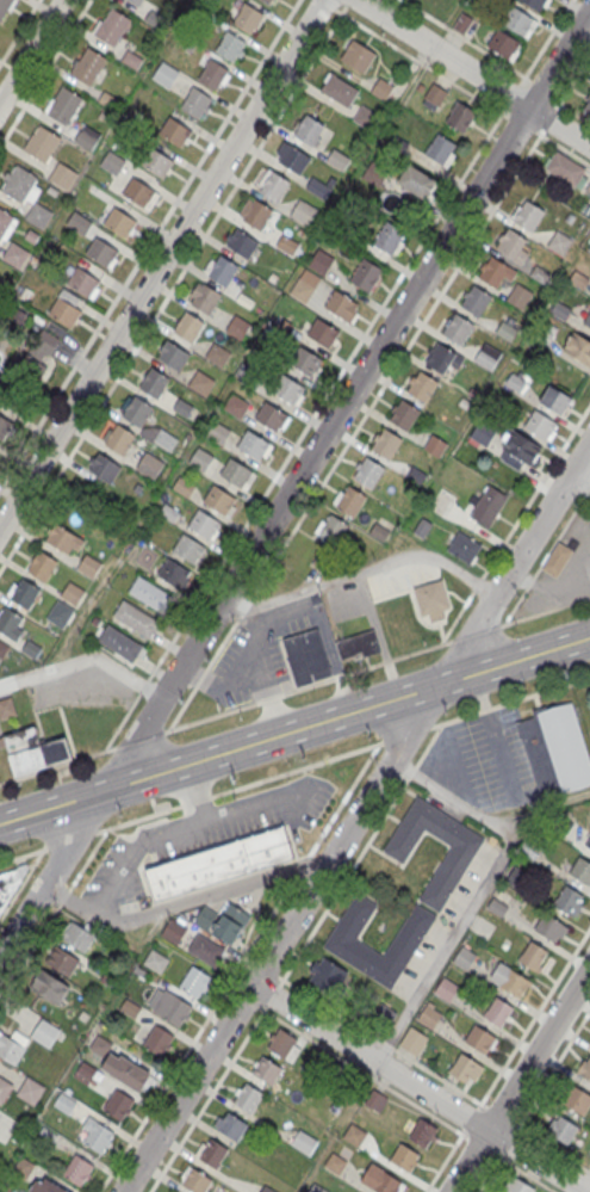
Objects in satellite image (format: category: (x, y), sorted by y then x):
building: (268, 1)
building: (135, 2)
road: (347, 2)
road: (327, 4)
building: (535, 4)
building: (5, 8)
building: (249, 20)
building: (518, 21)
building: (466, 24)
building: (113, 29)
road: (18, 30)
road: (466, 39)
road: (545, 42)
building: (502, 44)
building: (230, 49)
road: (31, 50)
building: (358, 55)
road: (420, 62)
building: (88, 68)
road: (44, 72)
road: (473, 74)
building: (164, 75)
building: (213, 76)
road: (571, 80)
building: (339, 89)
road: (540, 89)
building: (381, 91)
road: (511, 95)
building: (436, 98)
building: (197, 104)
building: (63, 107)
road: (570, 109)
building: (588, 110)
building: (460, 116)
building: (365, 119)
road: (547, 119)
road: (520, 124)
building: (309, 130)
building: (175, 134)
building: (86, 138)
building: (43, 144)
road: (561, 147)
building: (441, 149)
building: (293, 161)
building: (112, 163)
building: (157, 165)
building: (565, 169)
building: (374, 175)
building: (62, 178)
building: (272, 184)
building: (20, 185)
building: (420, 186)
building: (317, 187)
building: (588, 189)
building: (138, 194)
building: (584, 208)
building: (255, 212)
building: (303, 214)
building: (528, 215)
building: (38, 217)
building: (5, 223)
building: (79, 223)
building: (120, 224)
building: (342, 229)
building: (389, 239)
building: (559, 242)
road: (149, 243)
building: (287, 245)
building: (513, 245)
building: (242, 246)
building: (589, 248)
building: (589, 252)
building: (103, 254)
building: (15, 257)
road: (161, 263)
building: (319, 264)
building: (495, 271)
building: (223, 273)
building: (539, 274)
building: (366, 276)
building: (578, 278)
building: (82, 284)
road: (173, 286)
building: (302, 291)
building: (518, 297)
building: (474, 298)
building: (206, 301)
building: (341, 307)
building: (559, 309)
building: (63, 314)
building: (588, 320)
building: (237, 327)
building: (188, 328)
building: (458, 328)
building: (505, 331)
building: (323, 335)
building: (579, 347)
building: (218, 356)
building: (487, 356)
building: (173, 357)
building: (442, 358)
building: (304, 363)
road: (396, 364)
building: (31, 370)
building: (251, 378)
building: (201, 384)
building: (154, 385)
building: (421, 385)
building: (288, 391)
road: (325, 391)
building: (473, 391)
building: (555, 400)
building: (464, 403)
building: (236, 407)
building: (138, 413)
building: (404, 415)
building: (272, 419)
building: (536, 421)
building: (4, 428)
building: (483, 431)
building: (217, 434)
building: (119, 441)
building: (385, 443)
building: (520, 444)
building: (435, 445)
building: (253, 446)
building: (201, 461)
building: (149, 468)
building: (104, 470)
building: (367, 471)
building: (416, 474)
building: (236, 475)
road: (582, 477)
road: (296, 486)
building: (184, 487)
road: (588, 488)
road: (534, 489)
building: (350, 500)
building: (442, 501)
building: (219, 502)
building: (489, 505)
building: (204, 526)
building: (421, 526)
building: (379, 531)
road: (559, 533)
building: (64, 539)
building: (329, 541)
building: (464, 546)
building: (188, 550)
building: (557, 557)
building: (41, 567)
building: (89, 567)
road: (366, 569)
parking lot: (563, 570)
building: (173, 575)
road: (400, 582)
road: (527, 582)
road: (476, 583)
building: (25, 595)
building: (72, 595)
building: (150, 597)
building: (431, 600)
road: (244, 606)
road: (513, 607)
road: (546, 610)
road: (83, 614)
building: (60, 616)
road: (454, 616)
road: (415, 617)
building: (136, 620)
building: (8, 624)
road: (501, 624)
road: (473, 634)
building: (119, 644)
building: (358, 644)
parking lot: (267, 647)
building: (2, 648)
building: (308, 655)
road: (86, 657)
road: (203, 674)
road: (143, 685)
road: (304, 686)
road: (510, 700)
building: (7, 709)
road: (122, 721)
road: (294, 728)
road: (406, 733)
road: (137, 739)
road: (429, 743)
building: (554, 747)
building: (31, 751)
parking lot: (482, 759)
road: (57, 762)
road: (296, 768)
road: (414, 771)
road: (343, 798)
road: (194, 801)
road: (551, 804)
road: (544, 809)
road: (228, 813)
road: (136, 817)
road: (358, 822)
building: (557, 824)
parking lot: (204, 833)
road: (70, 839)
building: (588, 842)
road: (45, 847)
road: (135, 847)
building: (529, 847)
road: (21, 854)
road: (86, 858)
building: (219, 861)
road: (299, 866)
building: (582, 870)
building: (442, 875)
building: (516, 877)
building: (11, 881)
road: (342, 881)
road: (21, 883)
road: (485, 889)
road: (361, 890)
road: (62, 896)
building: (567, 898)
road: (181, 903)
building: (496, 906)
road: (330, 915)
building: (205, 919)
parking lot: (443, 919)
building: (231, 922)
building: (549, 927)
building: (174, 933)
building: (76, 935)
road: (29, 950)
building: (206, 950)
building: (119, 953)
building: (532, 956)
building: (462, 957)
building: (62, 959)
building: (156, 963)
road: (269, 971)
building: (141, 974)
building: (327, 977)
building: (508, 978)
building: (105, 980)
building: (194, 980)
building: (50, 987)
road: (231, 988)
building: (446, 988)
road: (272, 994)
road: (246, 998)
building: (130, 1007)
building: (172, 1007)
road: (265, 1007)
building: (497, 1011)
building: (429, 1015)
road: (533, 1017)
building: (44, 1031)
road: (197, 1037)
building: (479, 1038)
building: (157, 1039)
building: (412, 1039)
road: (380, 1040)
building: (282, 1042)
building: (98, 1043)
building: (10, 1048)
building: (584, 1067)
building: (465, 1068)
road: (552, 1068)
building: (267, 1069)
building: (125, 1070)
road: (361, 1070)
building: (86, 1071)
road: (520, 1080)
road: (423, 1082)
building: (5, 1088)
building: (31, 1089)
road: (358, 1093)
building: (248, 1097)
building: (576, 1099)
road: (206, 1100)
building: (375, 1101)
building: (64, 1103)
building: (118, 1104)
building: (334, 1104)
road: (498, 1114)
road: (470, 1118)
building: (231, 1124)
building: (560, 1129)
building: (19, 1132)
building: (422, 1132)
building: (97, 1134)
building: (354, 1134)
building: (45, 1138)
building: (304, 1141)
road: (507, 1141)
road: (479, 1144)
road: (549, 1147)
building: (213, 1153)
building: (404, 1156)
road: (443, 1160)
building: (336, 1162)
building: (24, 1166)
building: (77, 1169)
road: (487, 1173)
road: (524, 1173)
building: (197, 1180)
building: (380, 1180)
building: (518, 1185)
building: (45, 1186)
building: (317, 1188)
building: (267, 1190)

